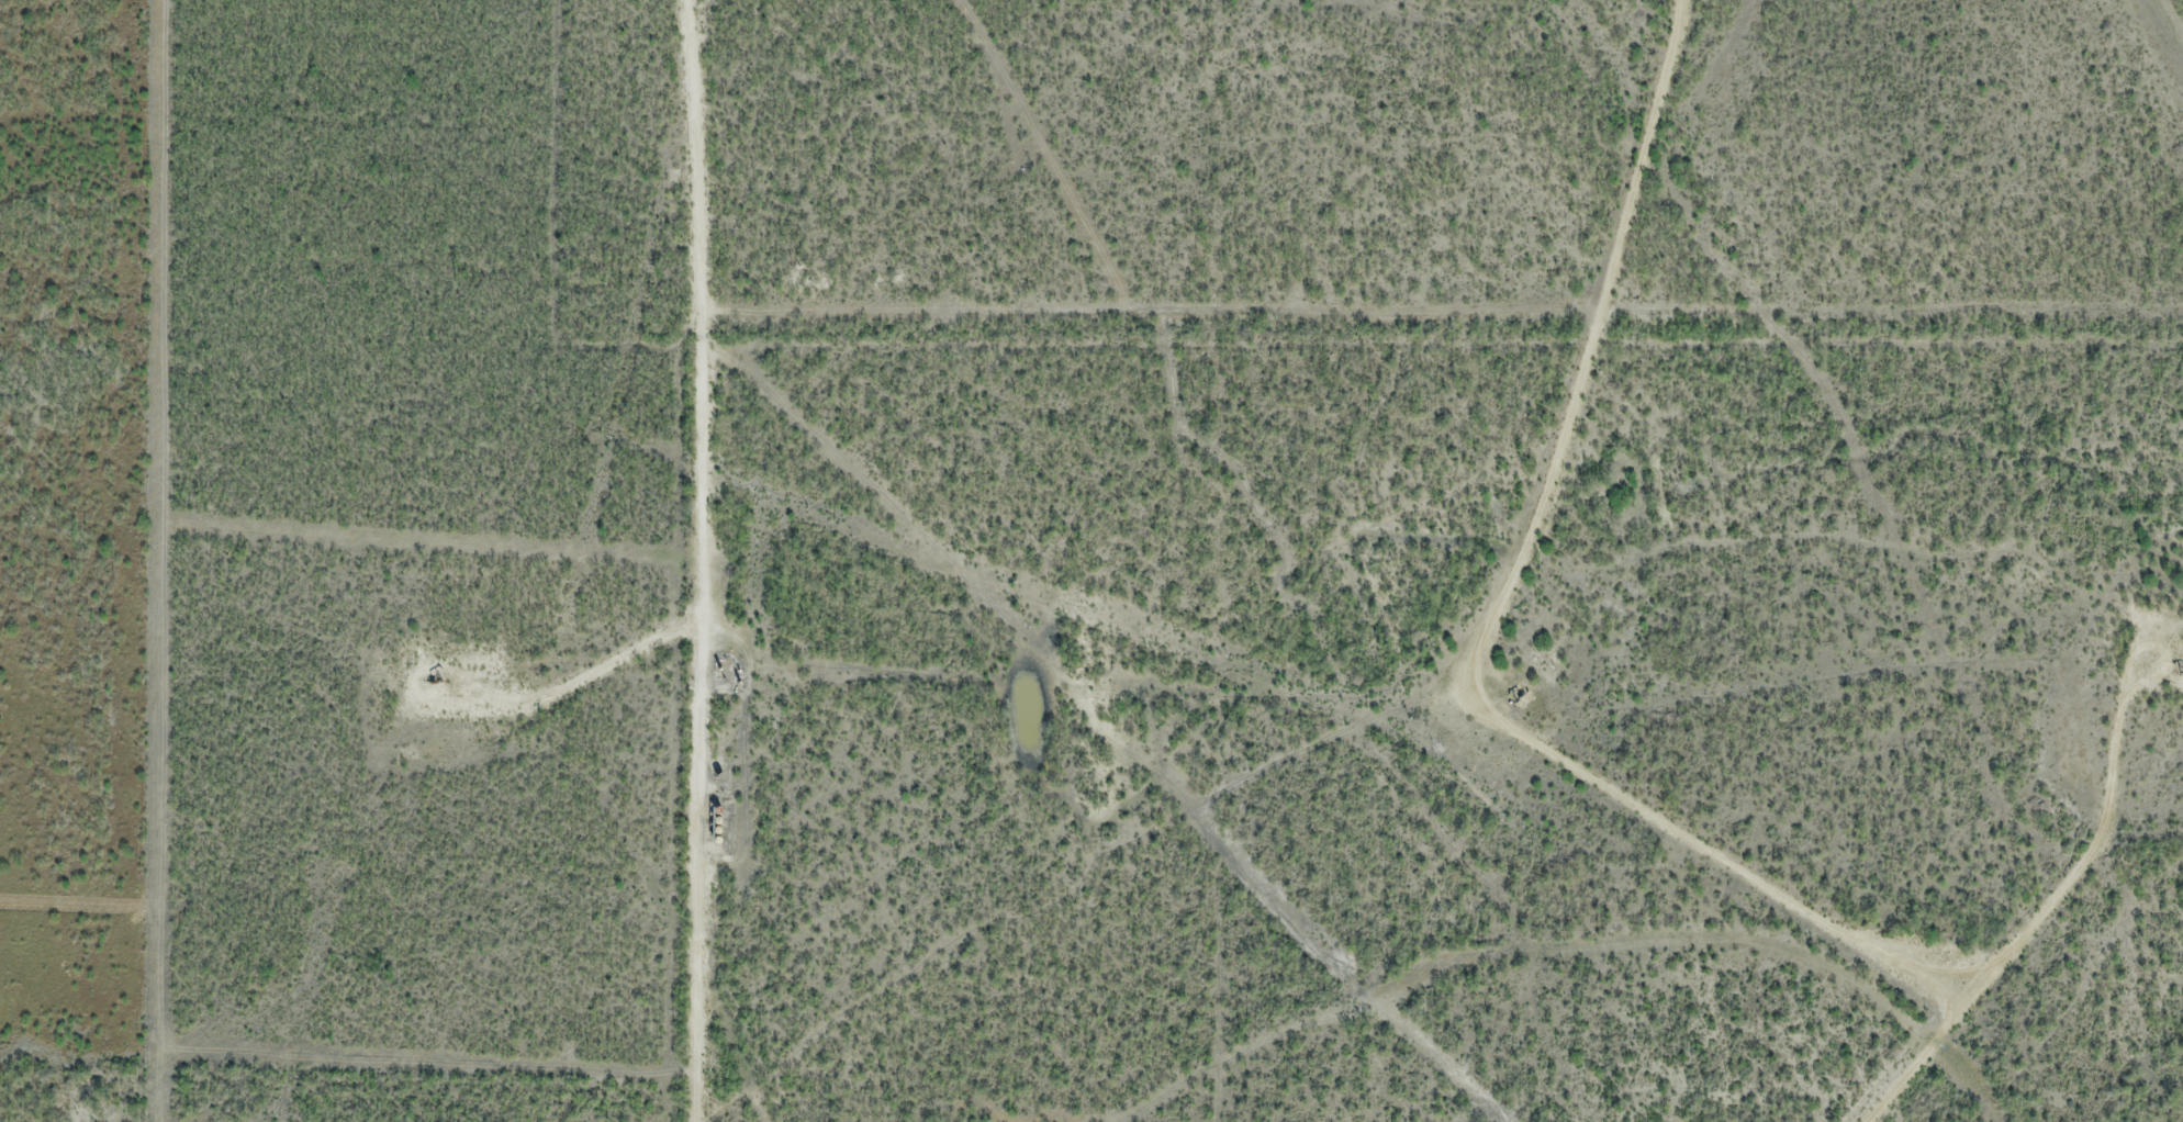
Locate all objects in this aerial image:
road: (696, 560)

